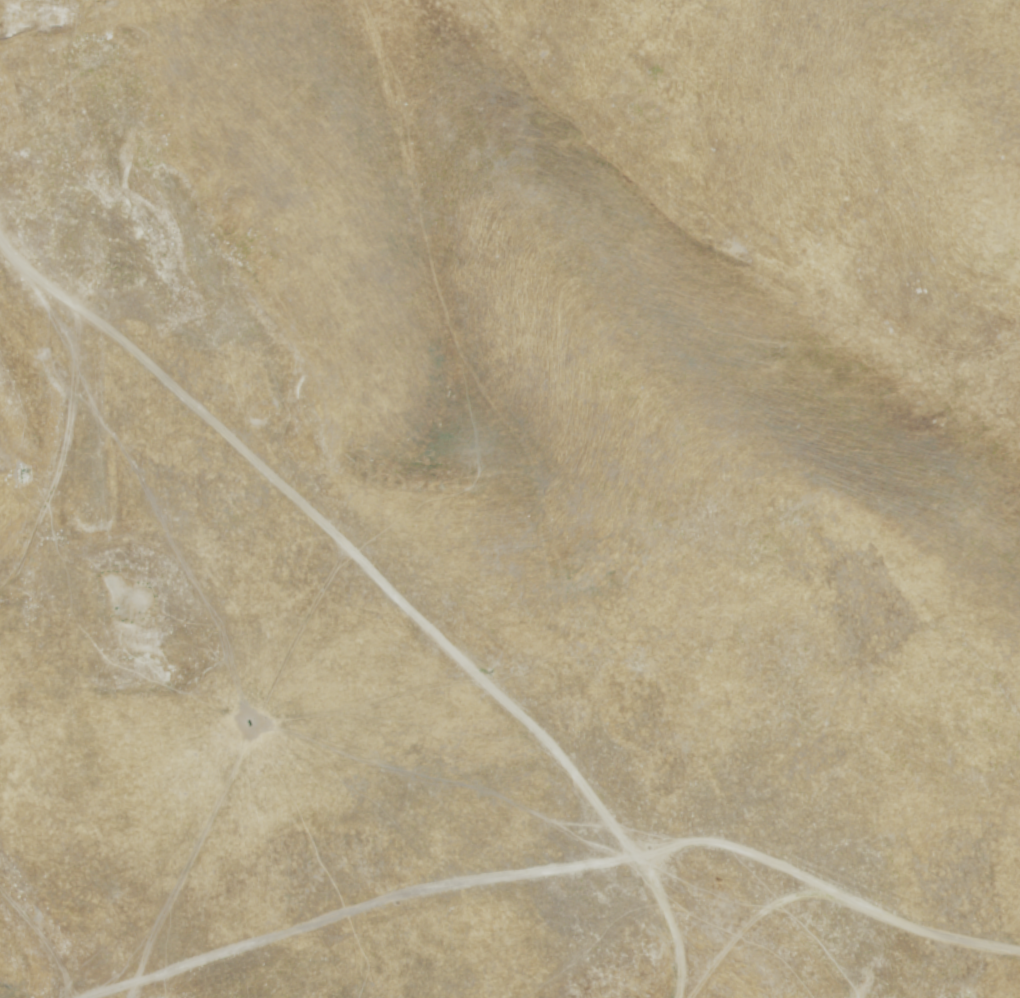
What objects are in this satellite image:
road: (60, 572)
road: (464, 668)
quarry: (248, 672)
road: (43, 941)

